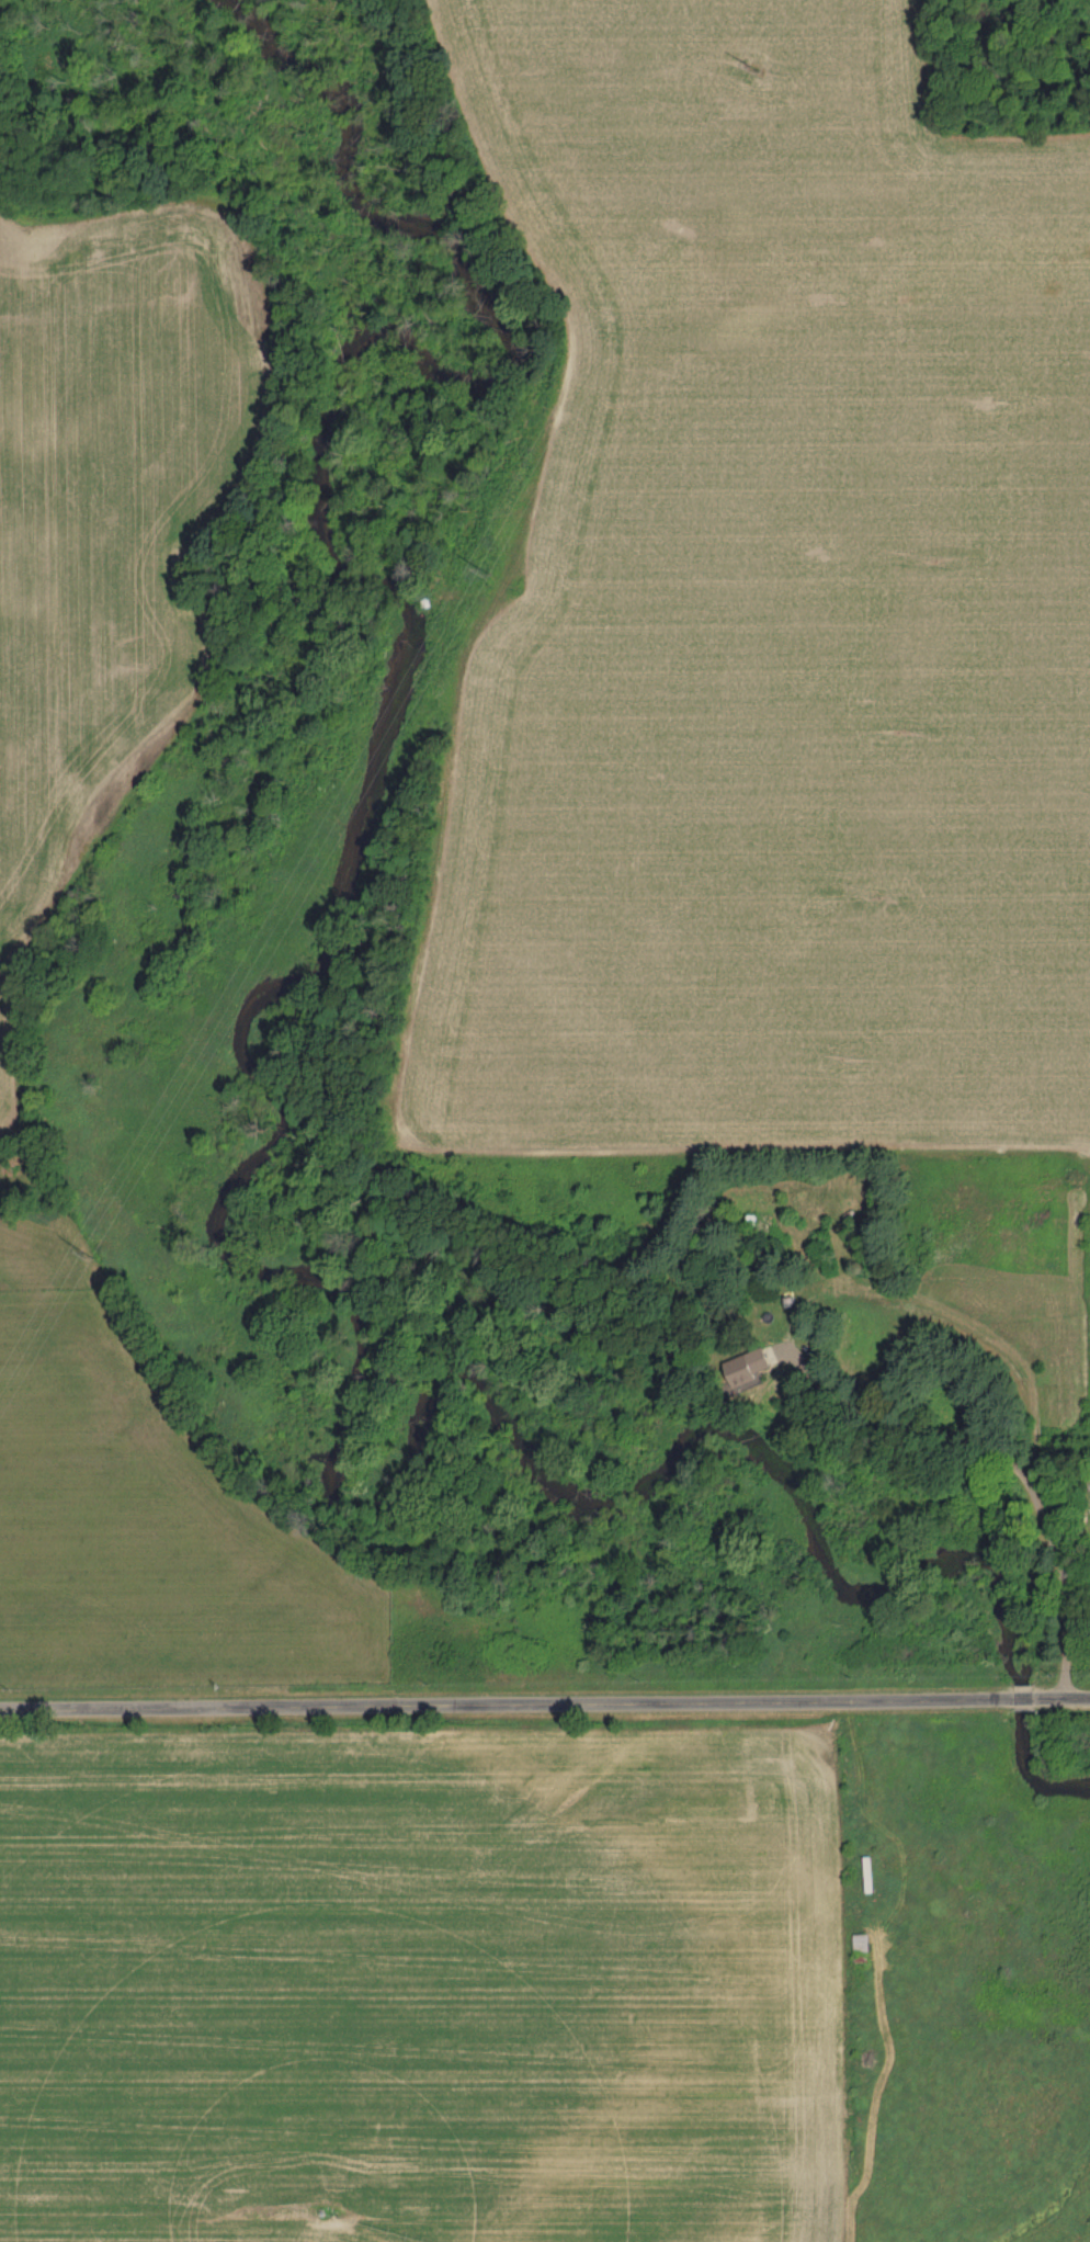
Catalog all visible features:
building: (753, 1361)
road: (1019, 1458)
road: (544, 1707)
building: (874, 1873)
building: (865, 1943)

